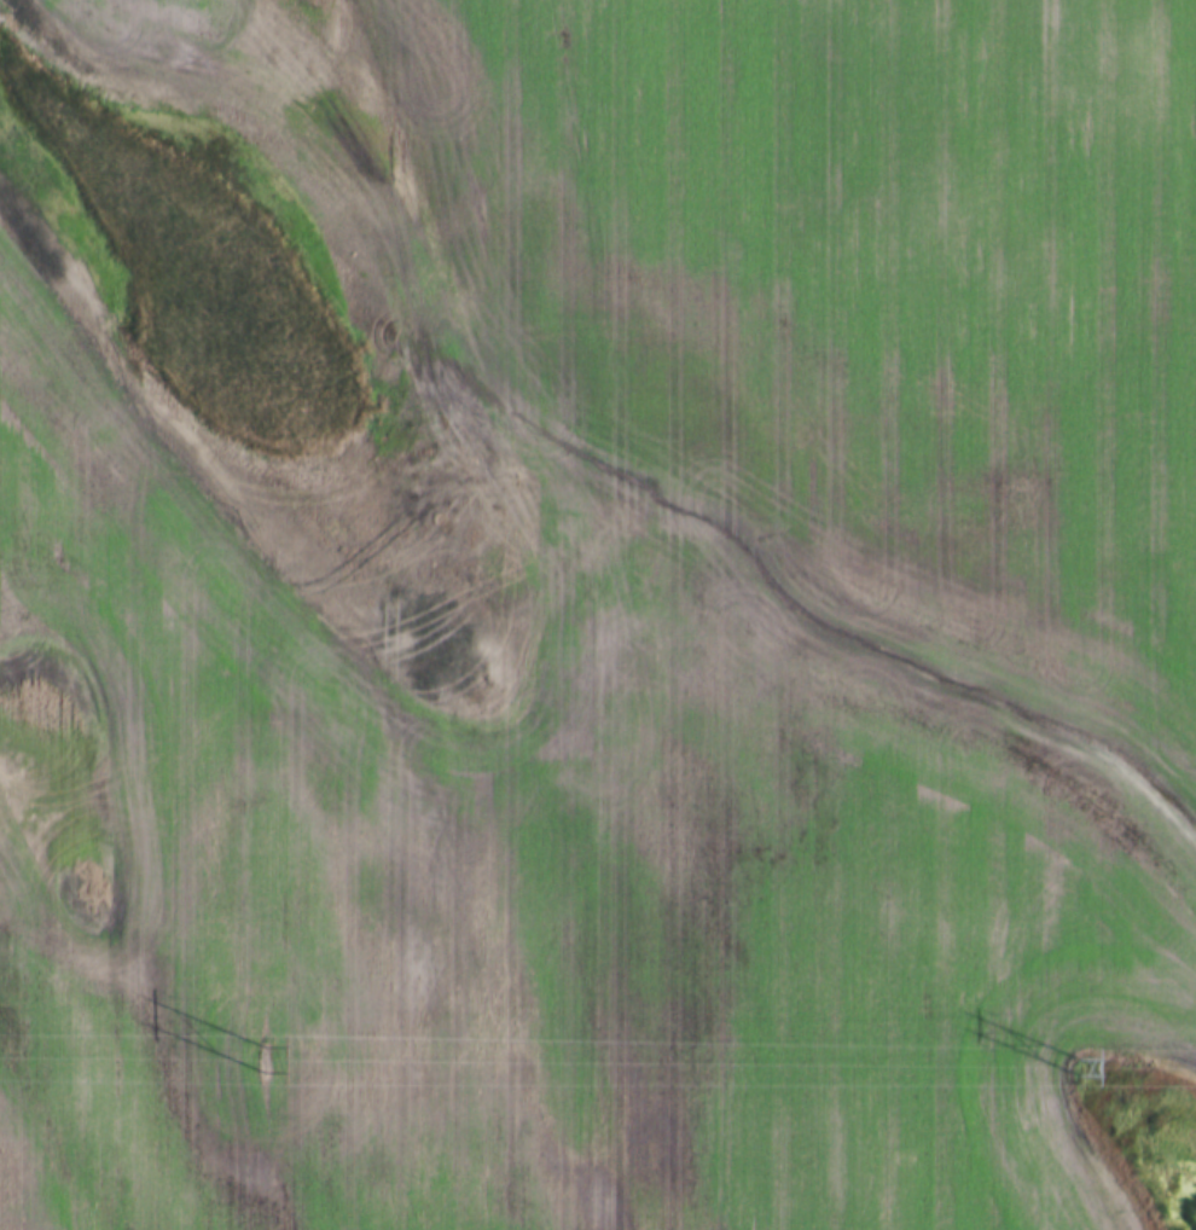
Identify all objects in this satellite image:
power tower: (263, 1056)
power tower: (1084, 1069)

